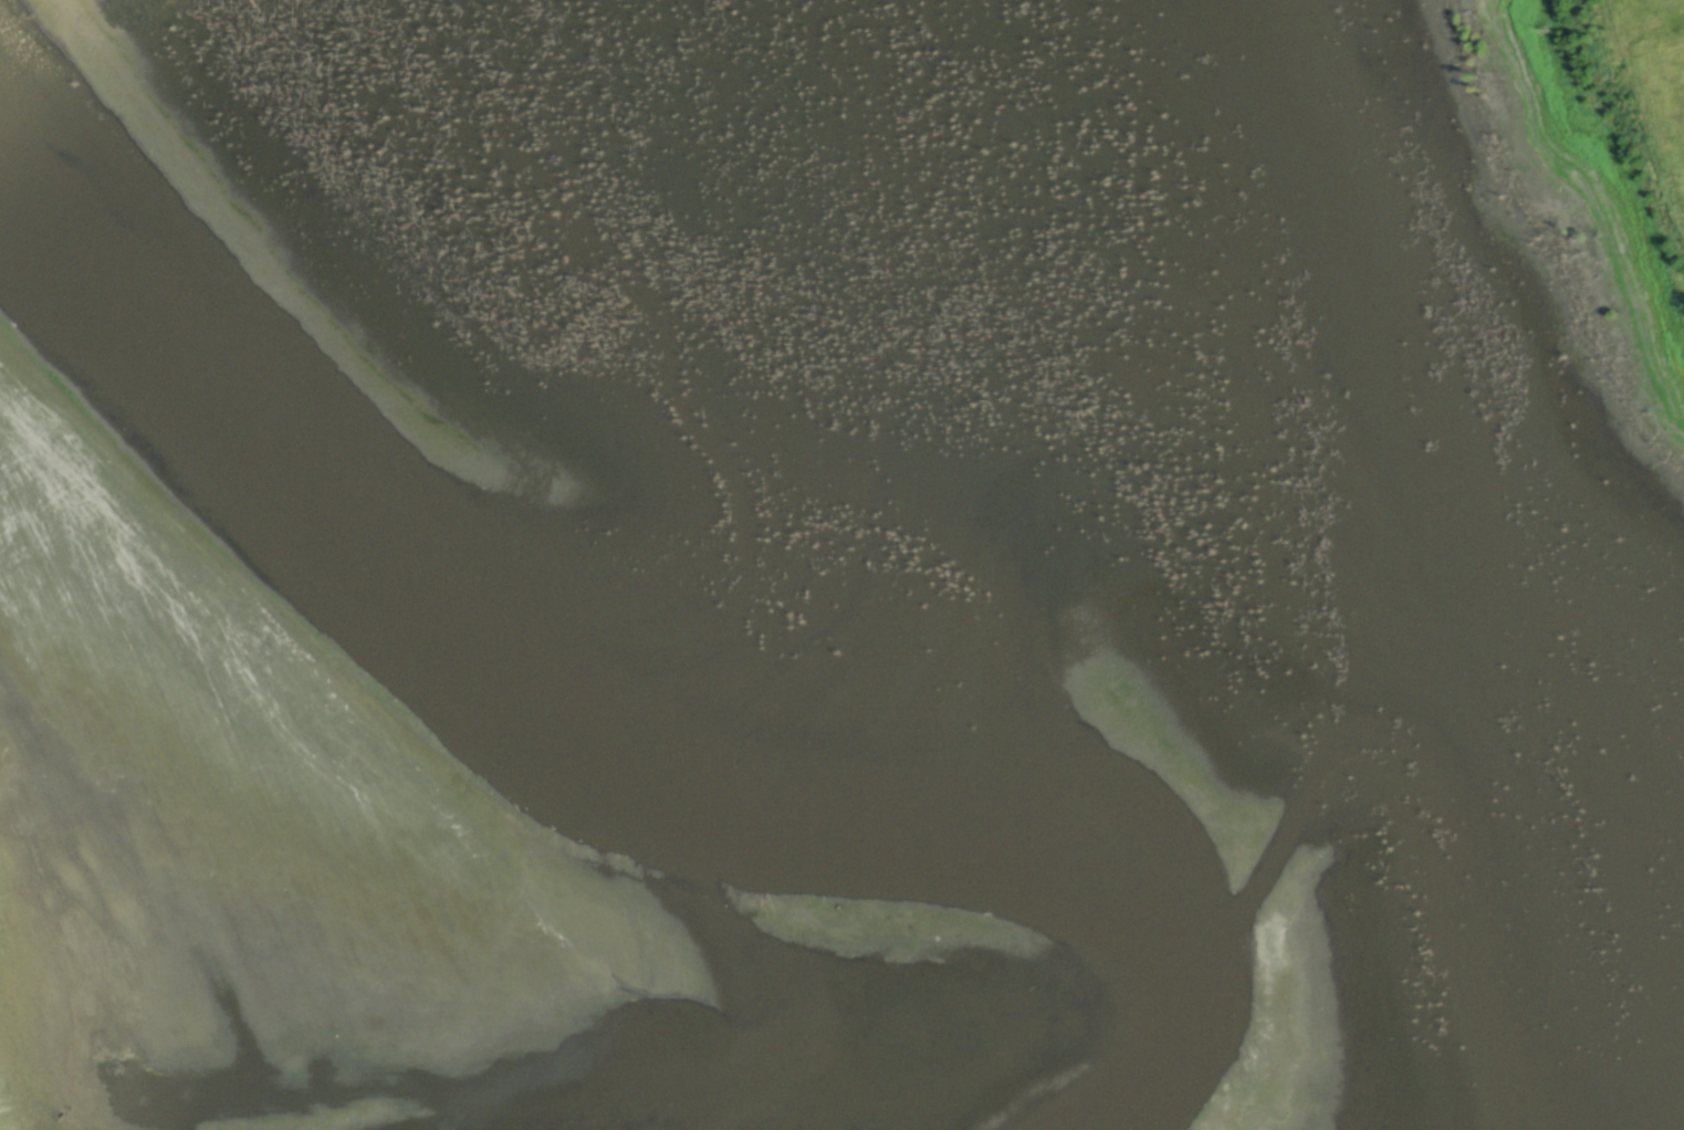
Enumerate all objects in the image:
river: (592, 719)
crop: (279, 859)

